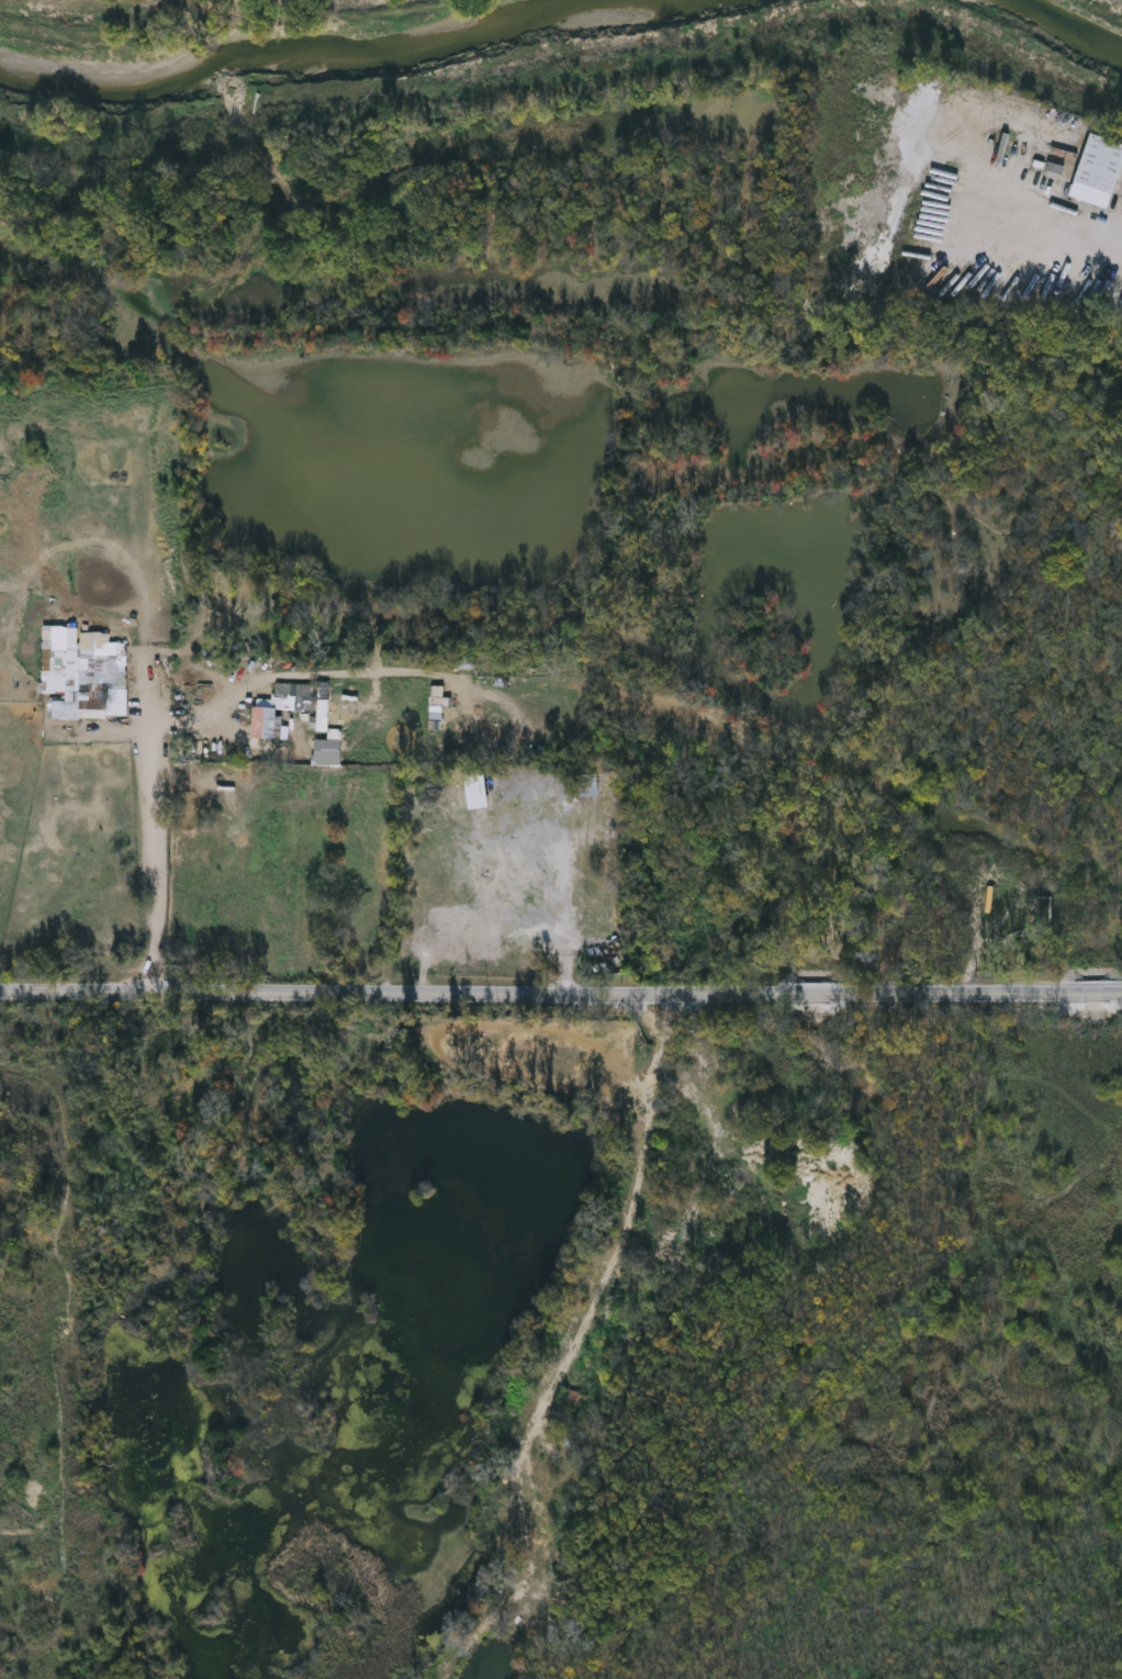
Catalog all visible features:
building: (1101, 171)
road: (1081, 237)
building: (80, 684)
building: (436, 705)
building: (283, 708)
building: (478, 792)
road: (152, 831)
road: (560, 994)
building: (739, 1052)
building: (683, 1118)
building: (680, 1166)
building: (593, 1350)
building: (575, 1399)
building: (545, 1473)
building: (539, 1527)

